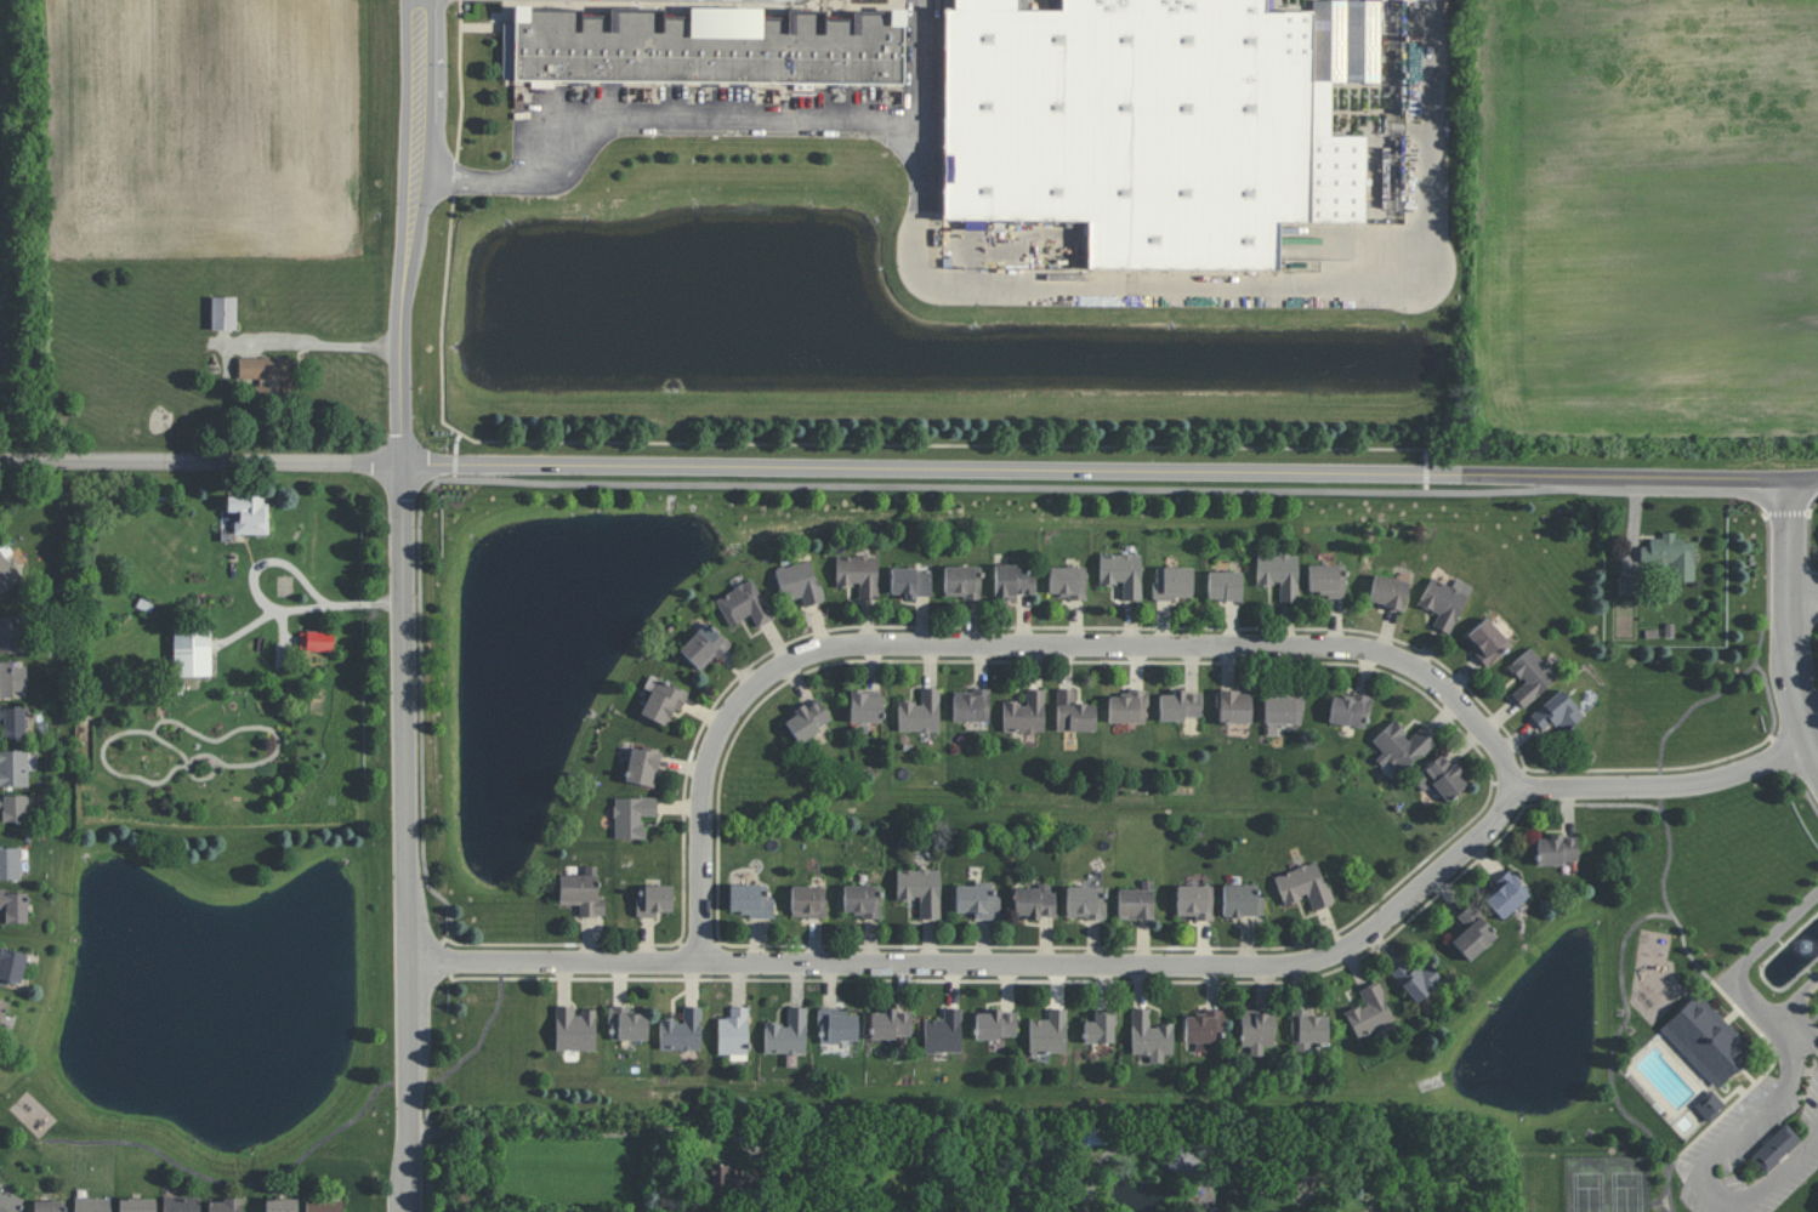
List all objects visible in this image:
road: (411, 13)
road: (430, 13)
building: (709, 47)
road: (461, 91)
road: (928, 101)
road: (657, 118)
building: (1154, 123)
building: (975, 223)
road: (1272, 284)
building: (223, 313)
road: (324, 343)
building: (268, 372)
road: (818, 443)
road: (455, 457)
road: (200, 461)
road: (1097, 472)
road: (1805, 483)
road: (1009, 489)
road: (1806, 494)
road: (1762, 496)
road: (1677, 497)
building: (249, 513)
building: (1670, 556)
road: (1765, 567)
building: (858, 574)
building: (1121, 574)
building: (1279, 574)
building: (6, 575)
building: (1326, 580)
building: (962, 581)
building: (1012, 581)
building: (1067, 581)
building: (910, 582)
building: (1172, 582)
building: (799, 584)
building: (1225, 585)
building: (1388, 592)
road: (1807, 596)
building: (1444, 602)
road: (271, 604)
building: (744, 604)
road: (405, 618)
road: (419, 626)
road: (1795, 627)
road: (262, 630)
building: (11, 633)
building: (316, 641)
building: (1487, 642)
building: (704, 647)
road: (1016, 647)
building: (192, 651)
building: (1530, 676)
building: (12, 678)
building: (661, 700)
building: (865, 705)
building: (1180, 705)
building: (972, 706)
building: (1234, 706)
building: (1129, 707)
building: (1283, 710)
building: (1350, 710)
building: (920, 712)
building: (1074, 712)
building: (1557, 712)
building: (1026, 713)
building: (808, 719)
building: (12, 721)
building: (1399, 747)
road: (1663, 749)
building: (642, 767)
building: (13, 768)
building: (1441, 778)
building: (13, 808)
building: (631, 815)
building: (1556, 849)
building: (10, 863)
building: (1305, 886)
building: (920, 889)
building: (581, 892)
road: (427, 893)
building: (1507, 894)
building: (653, 900)
building: (750, 900)
building: (862, 900)
building: (977, 900)
building: (1242, 900)
building: (808, 901)
building: (1034, 901)
building: (1085, 901)
building: (1136, 901)
building: (1194, 901)
building: (13, 906)
road: (1677, 922)
building: (1472, 934)
road: (1152, 965)
building: (11, 966)
road: (1734, 973)
building: (1416, 978)
building: (2, 1007)
building: (1370, 1012)
road: (1794, 1022)
building: (626, 1024)
building: (891, 1024)
building: (995, 1024)
building: (837, 1026)
building: (1100, 1028)
park: (1706, 1028)
building: (574, 1029)
building: (1205, 1029)
building: (1308, 1029)
building: (682, 1031)
building: (1257, 1031)
building: (943, 1032)
building: (1049, 1032)
building: (733, 1034)
building: (786, 1034)
building: (1151, 1036)
building: (1705, 1040)
road: (437, 1076)
building: (1709, 1105)
building: (1093, 1137)
building: (1774, 1146)
road: (1715, 1157)
building: (721, 1178)
road: (246, 1182)
road: (1671, 1189)
building: (8, 1202)
building: (181, 1204)
building: (92, 1205)
building: (225, 1205)
building: (280, 1205)
building: (324, 1205)
building: (49, 1206)

